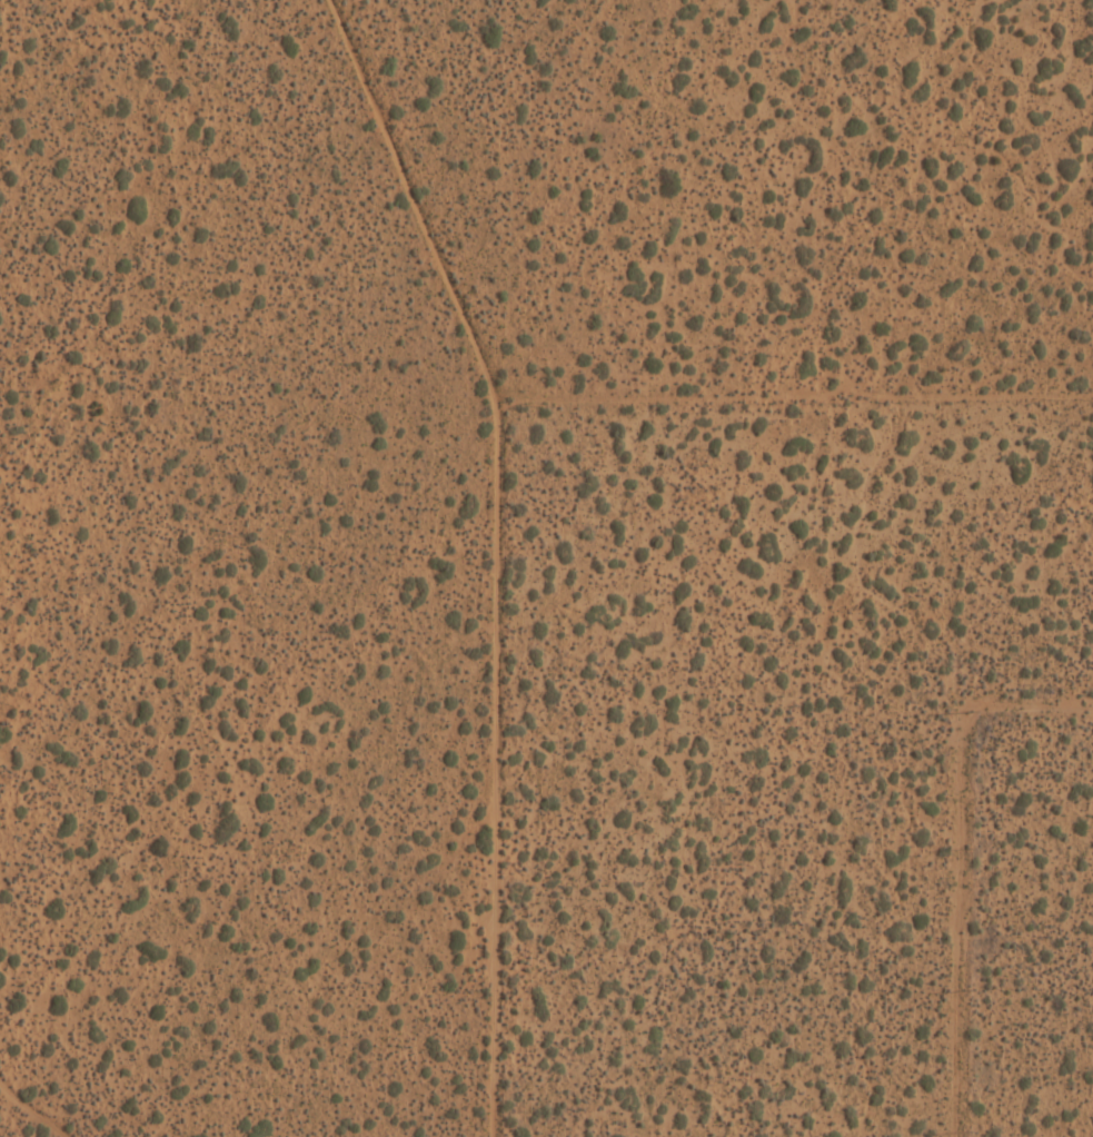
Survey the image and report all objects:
road: (1029, 702)

